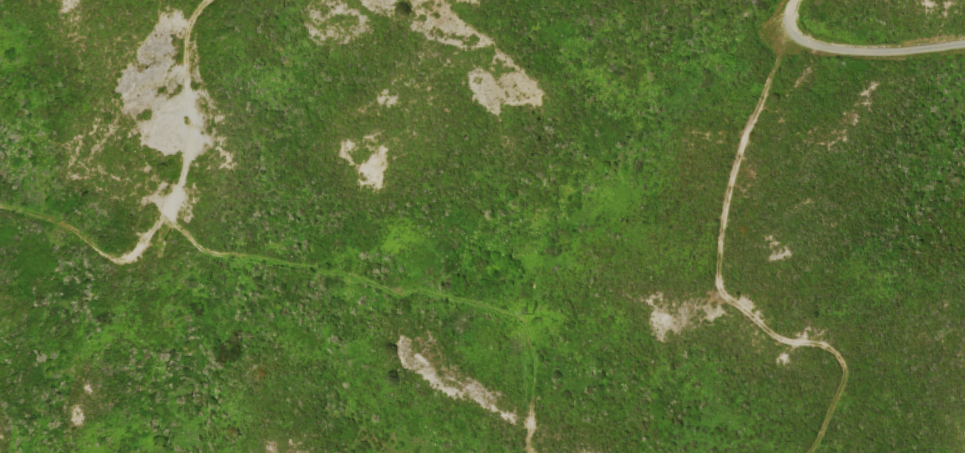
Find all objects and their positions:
road: (861, 51)
park: (270, 226)
road: (300, 261)
road: (719, 269)

